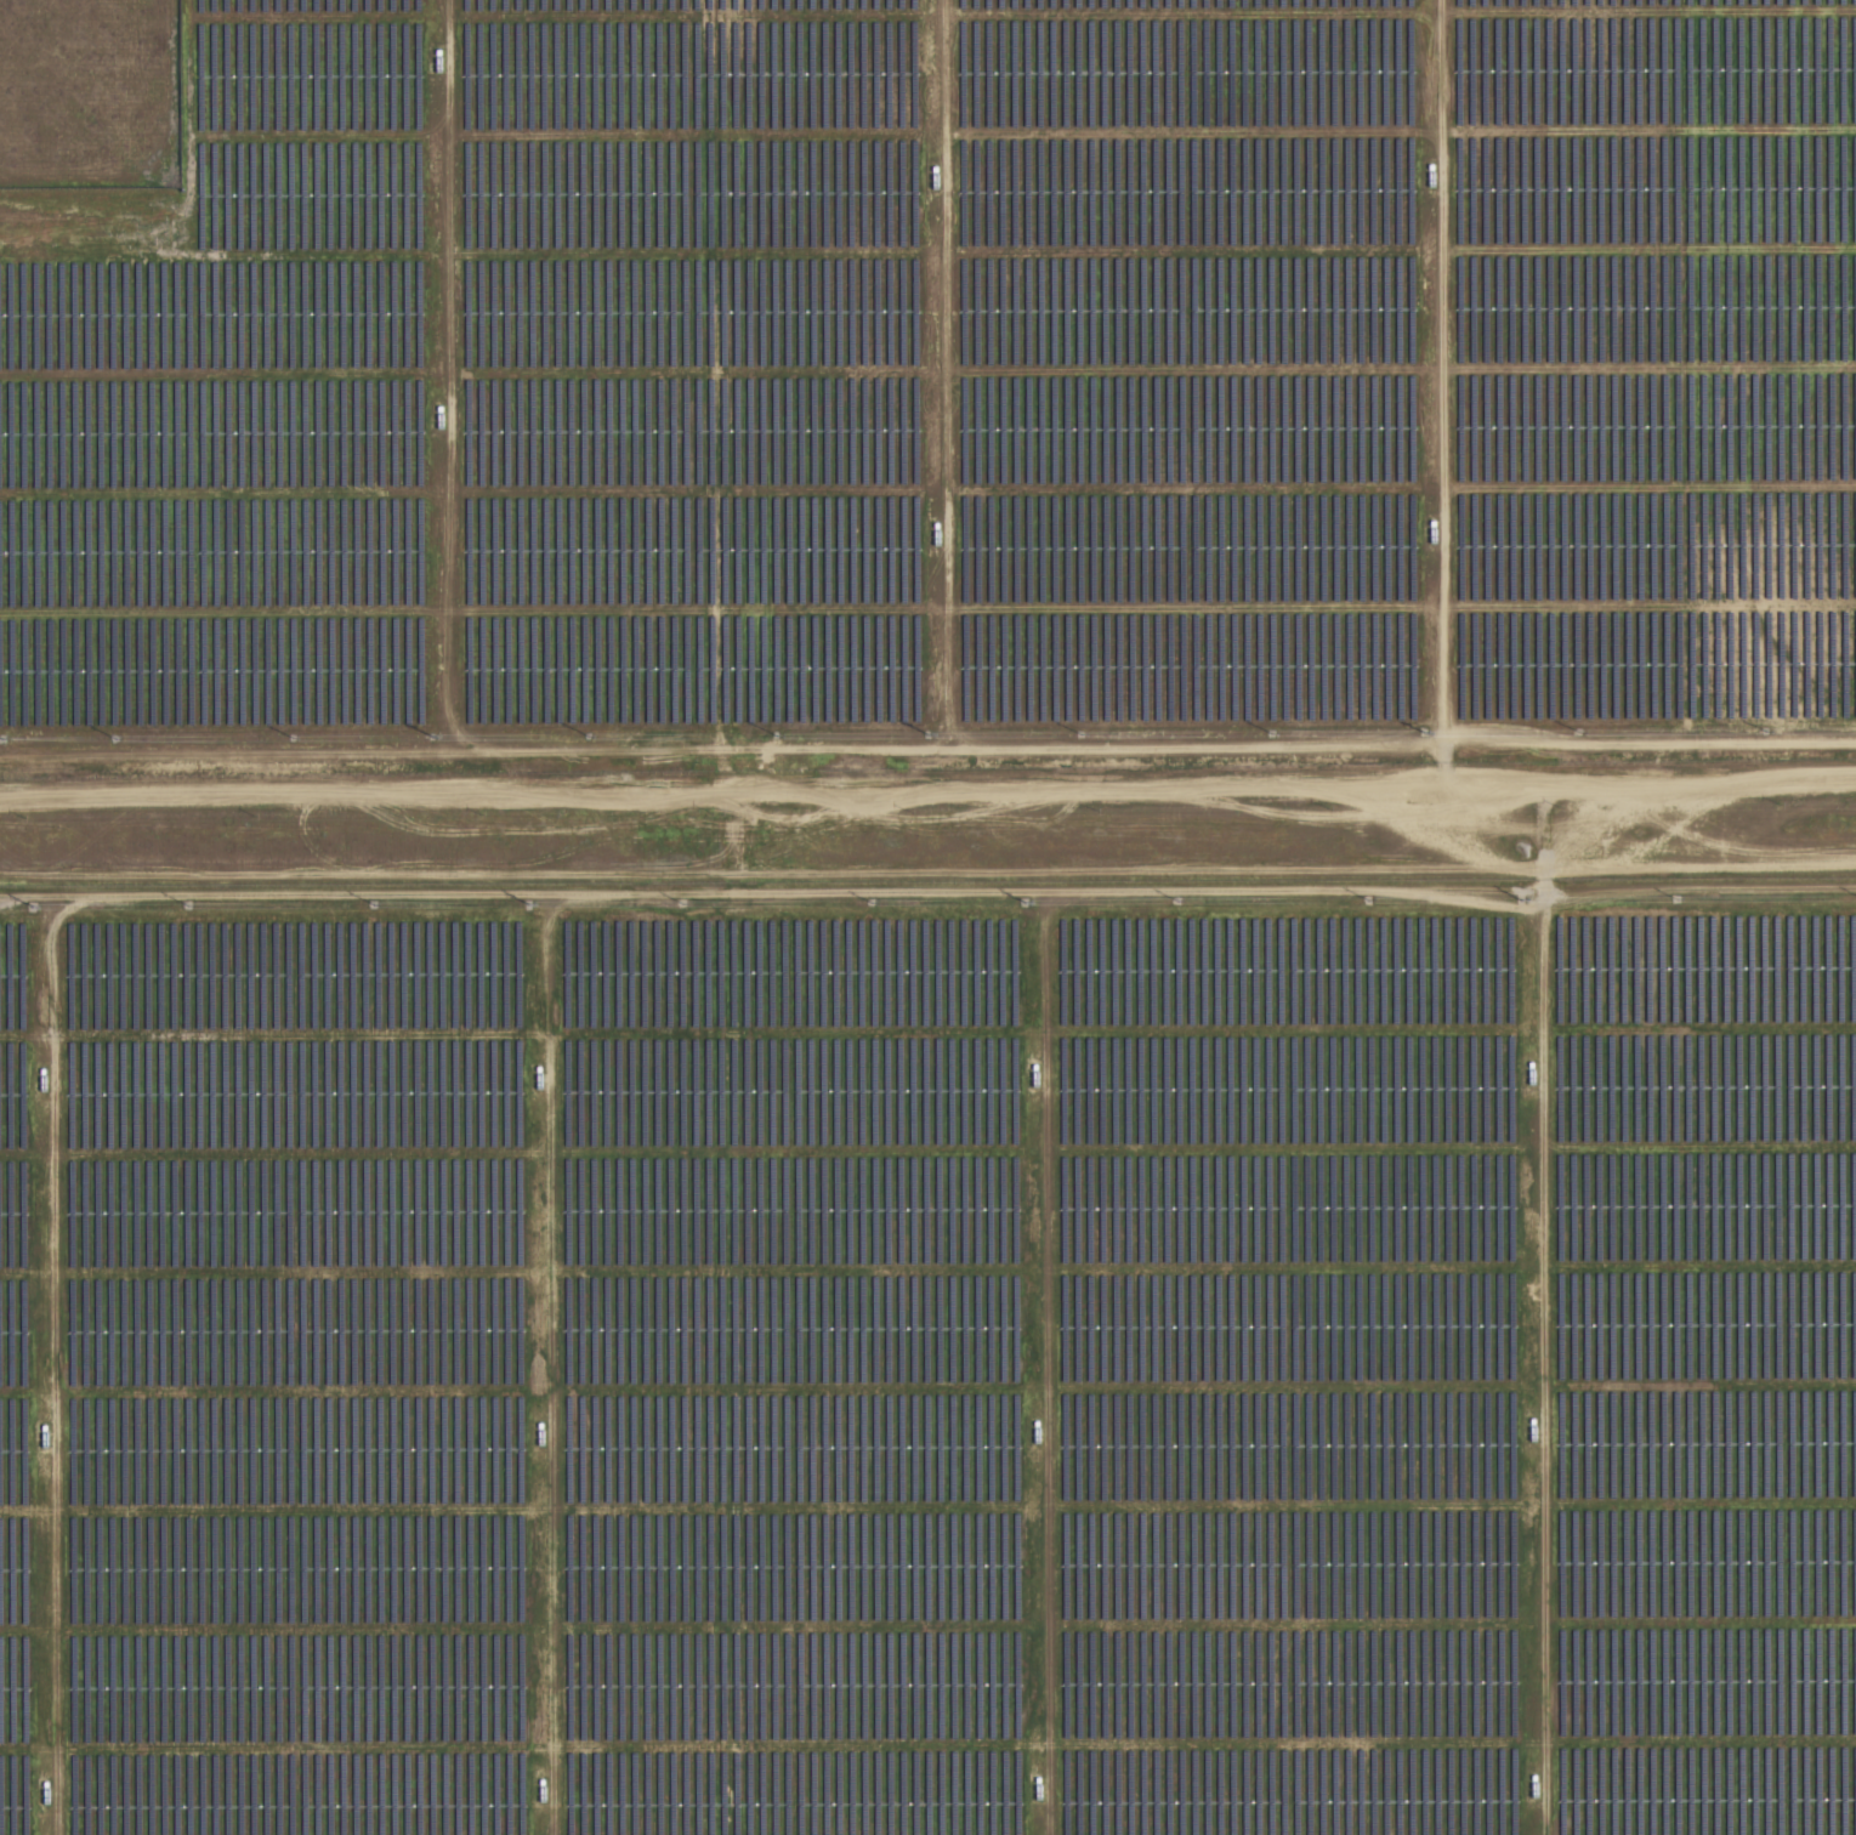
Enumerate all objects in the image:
road: (927, 812)

